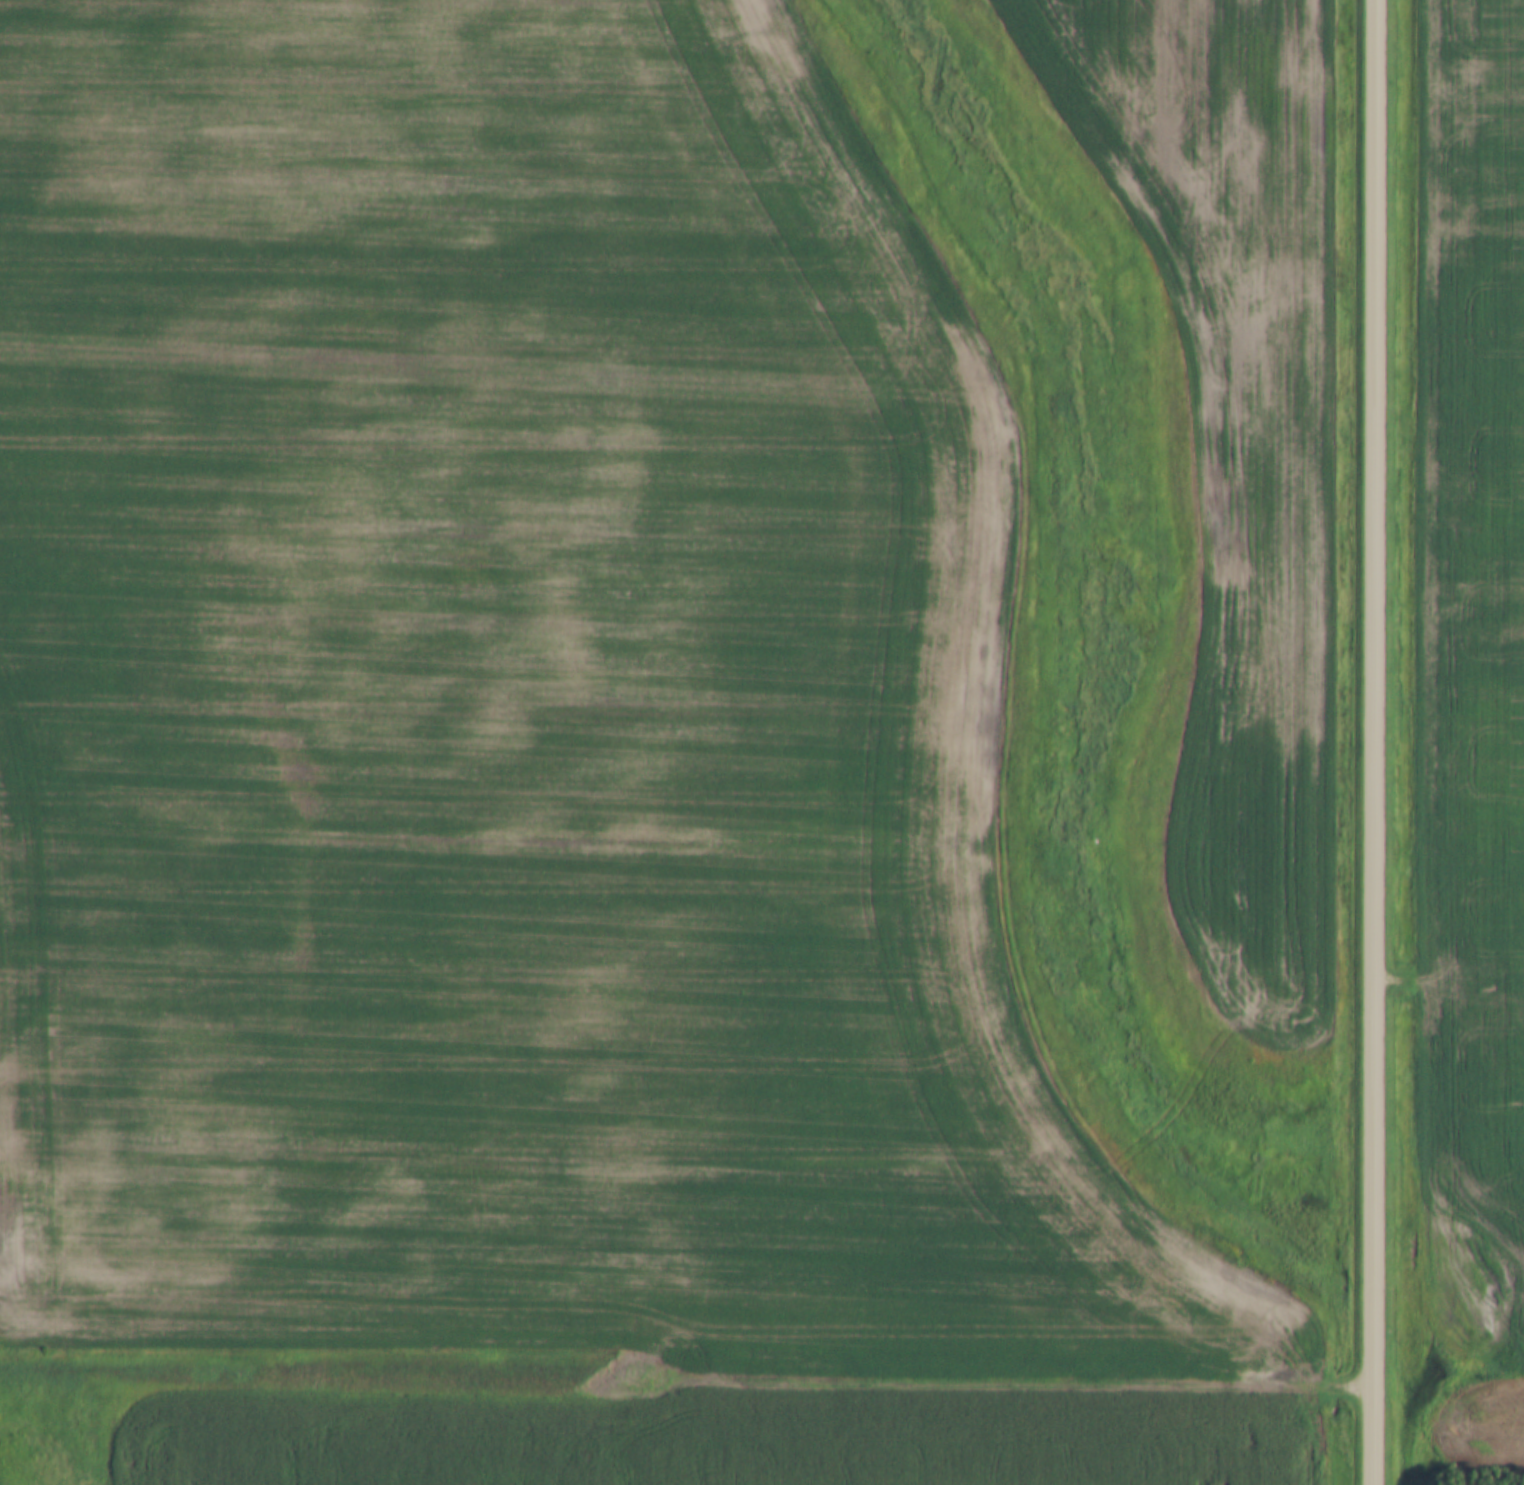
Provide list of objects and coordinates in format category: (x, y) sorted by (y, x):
road: (1374, 742)
road: (688, 1351)

